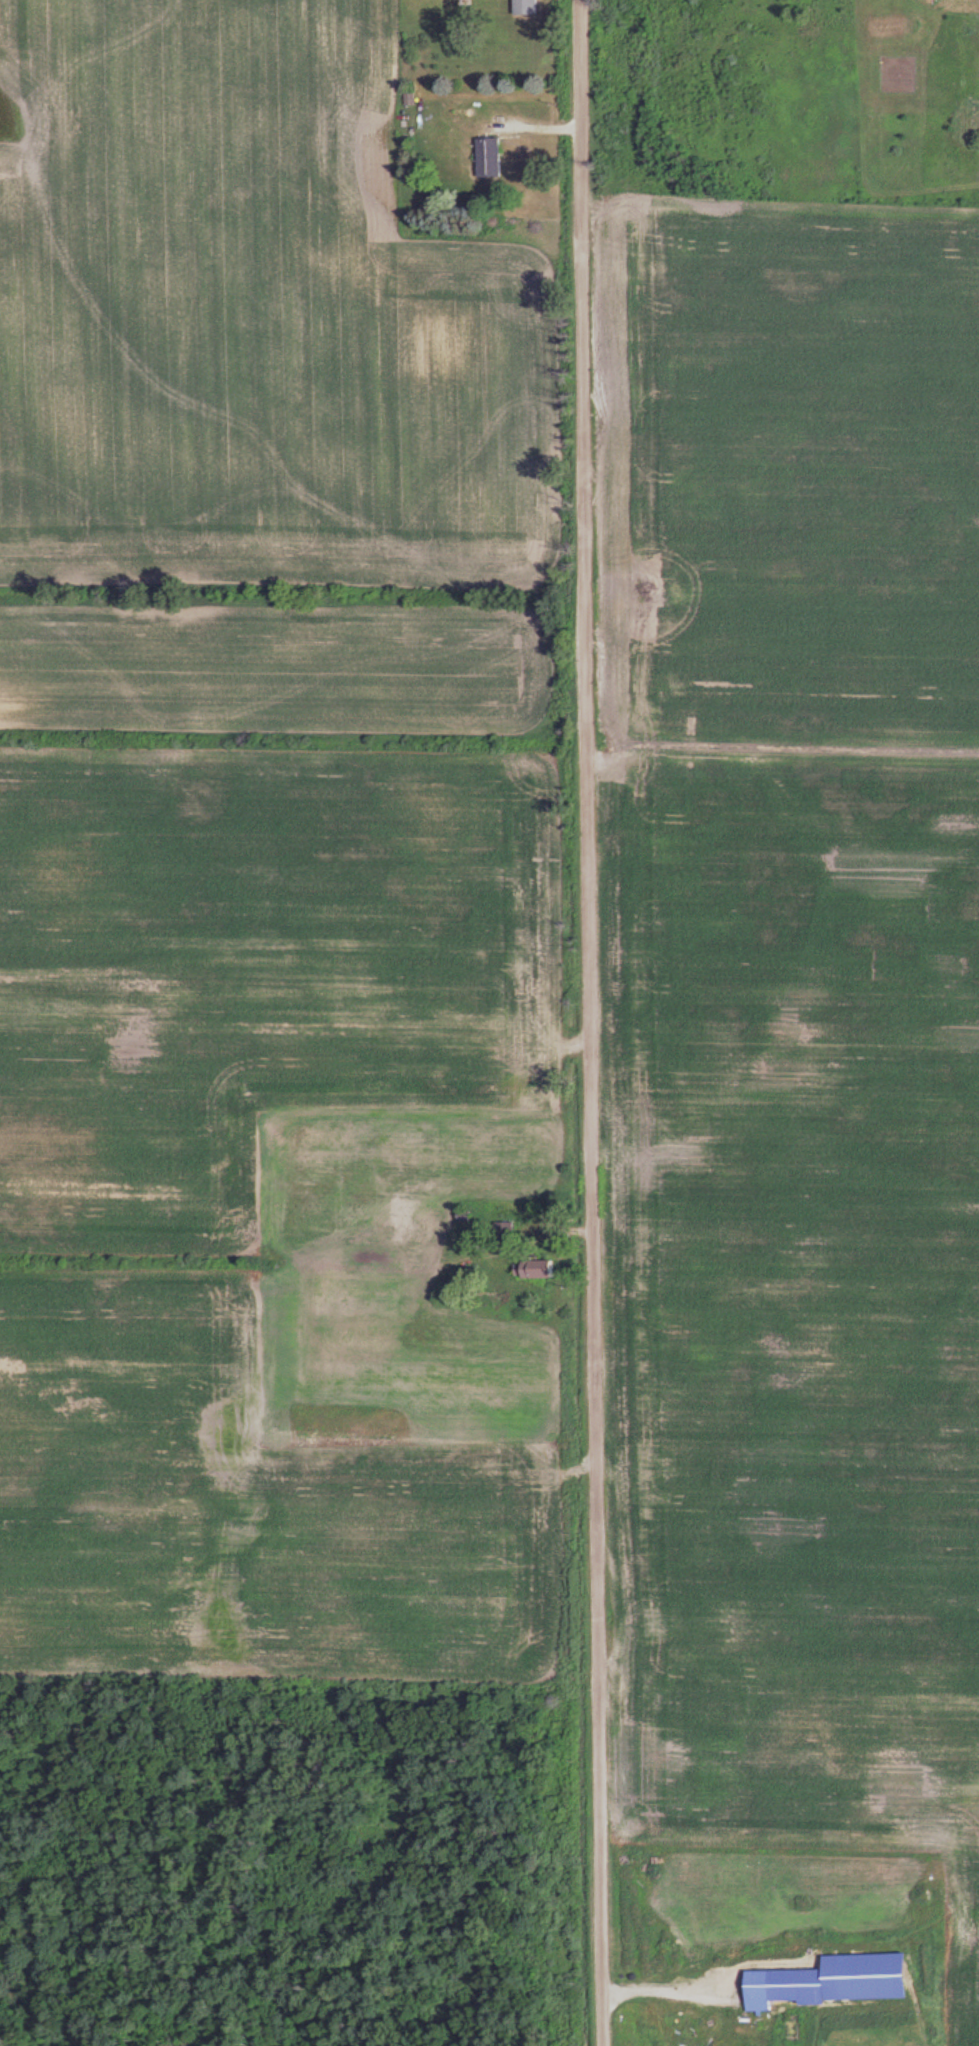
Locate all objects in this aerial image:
building: (518, 6)
building: (483, 156)
road: (580, 1023)
building: (520, 1267)
building: (662, 1899)
building: (857, 1975)
building: (762, 1986)

